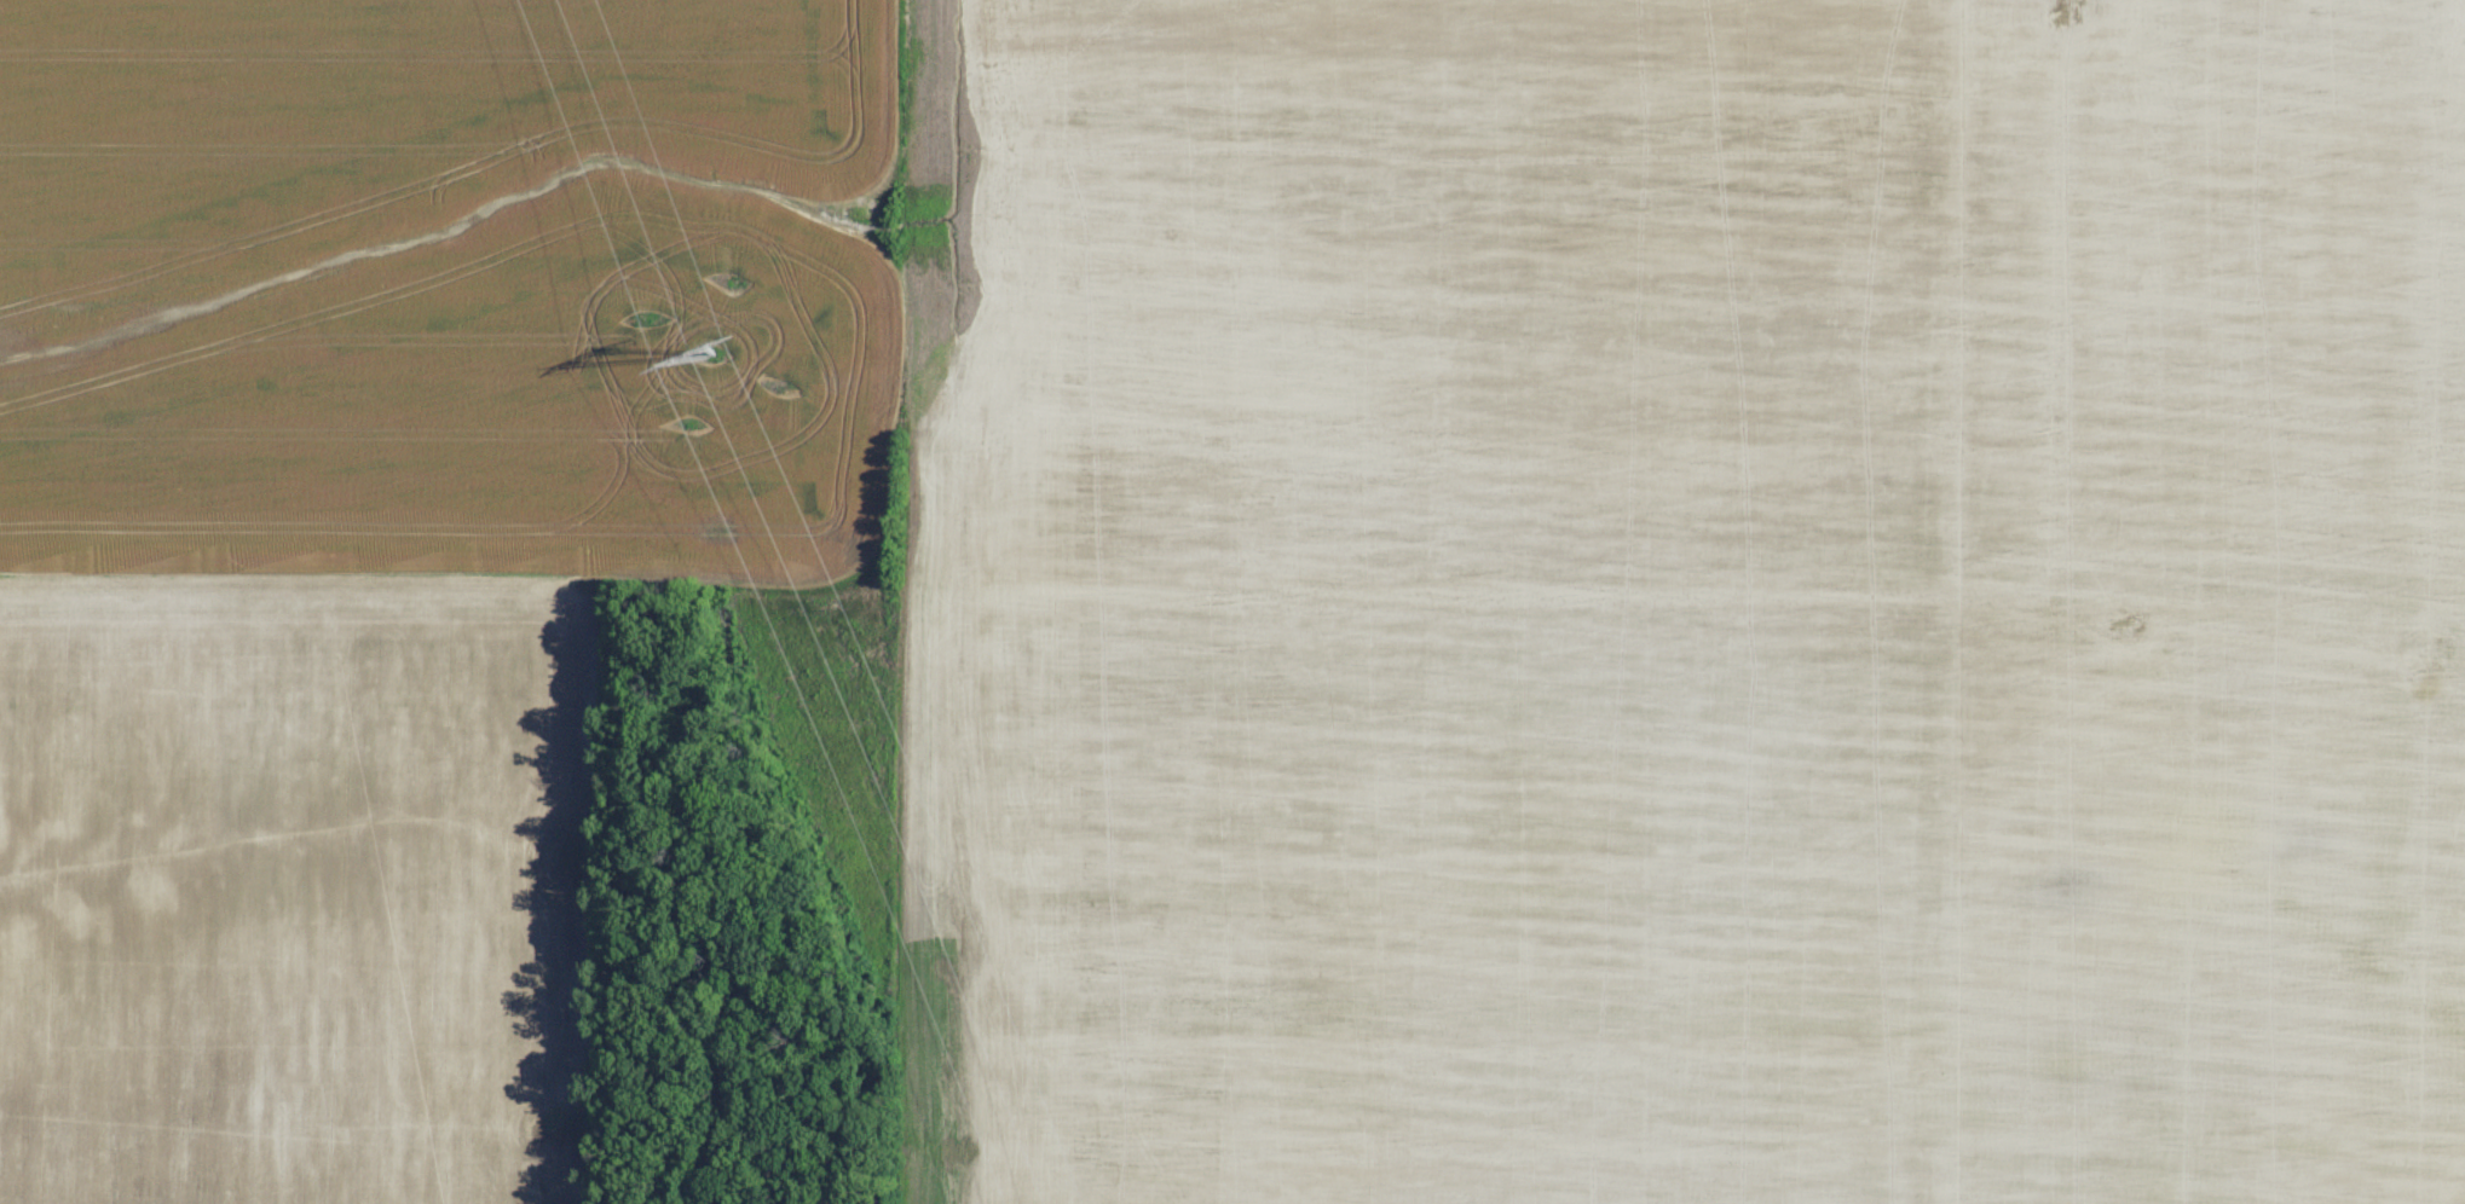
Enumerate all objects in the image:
power tower: (723, 358)

